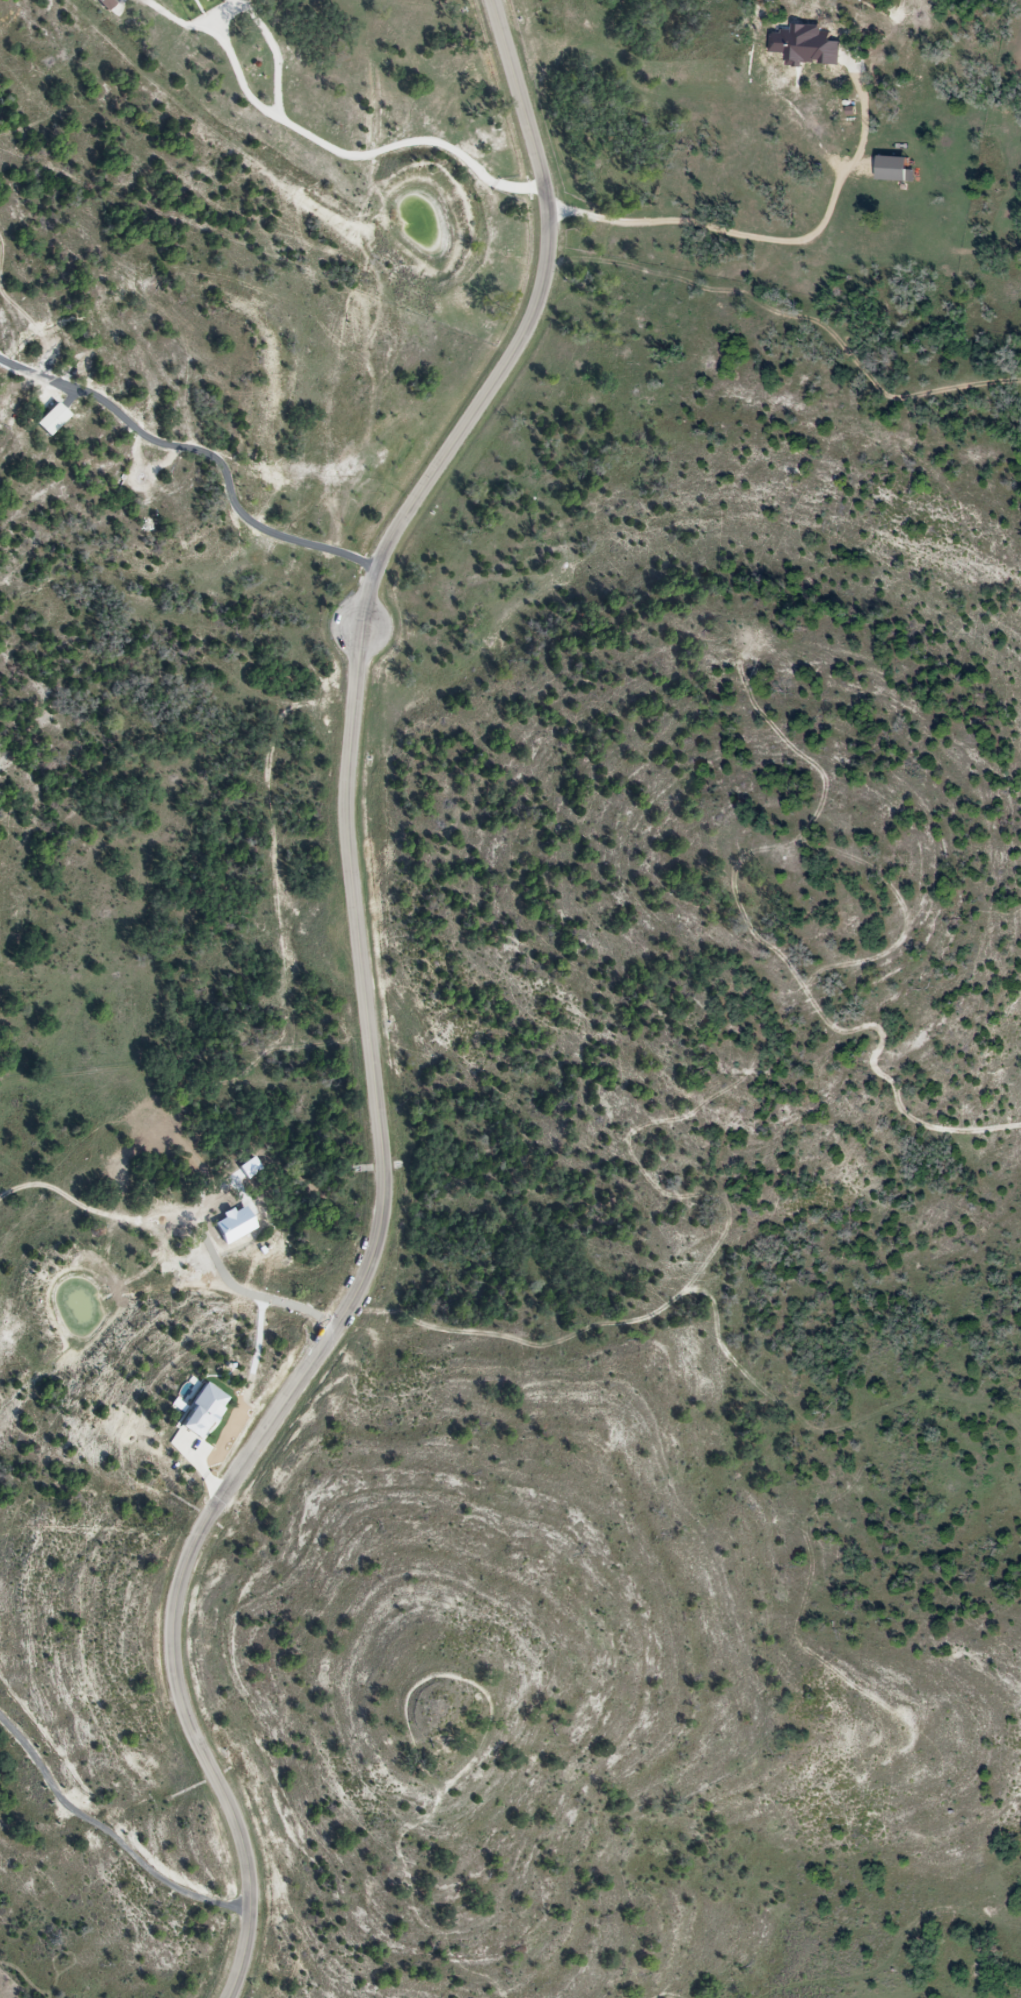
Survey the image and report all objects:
road: (287, 119)
road: (752, 232)
road: (202, 446)
road: (367, 1009)
road: (109, 1829)

